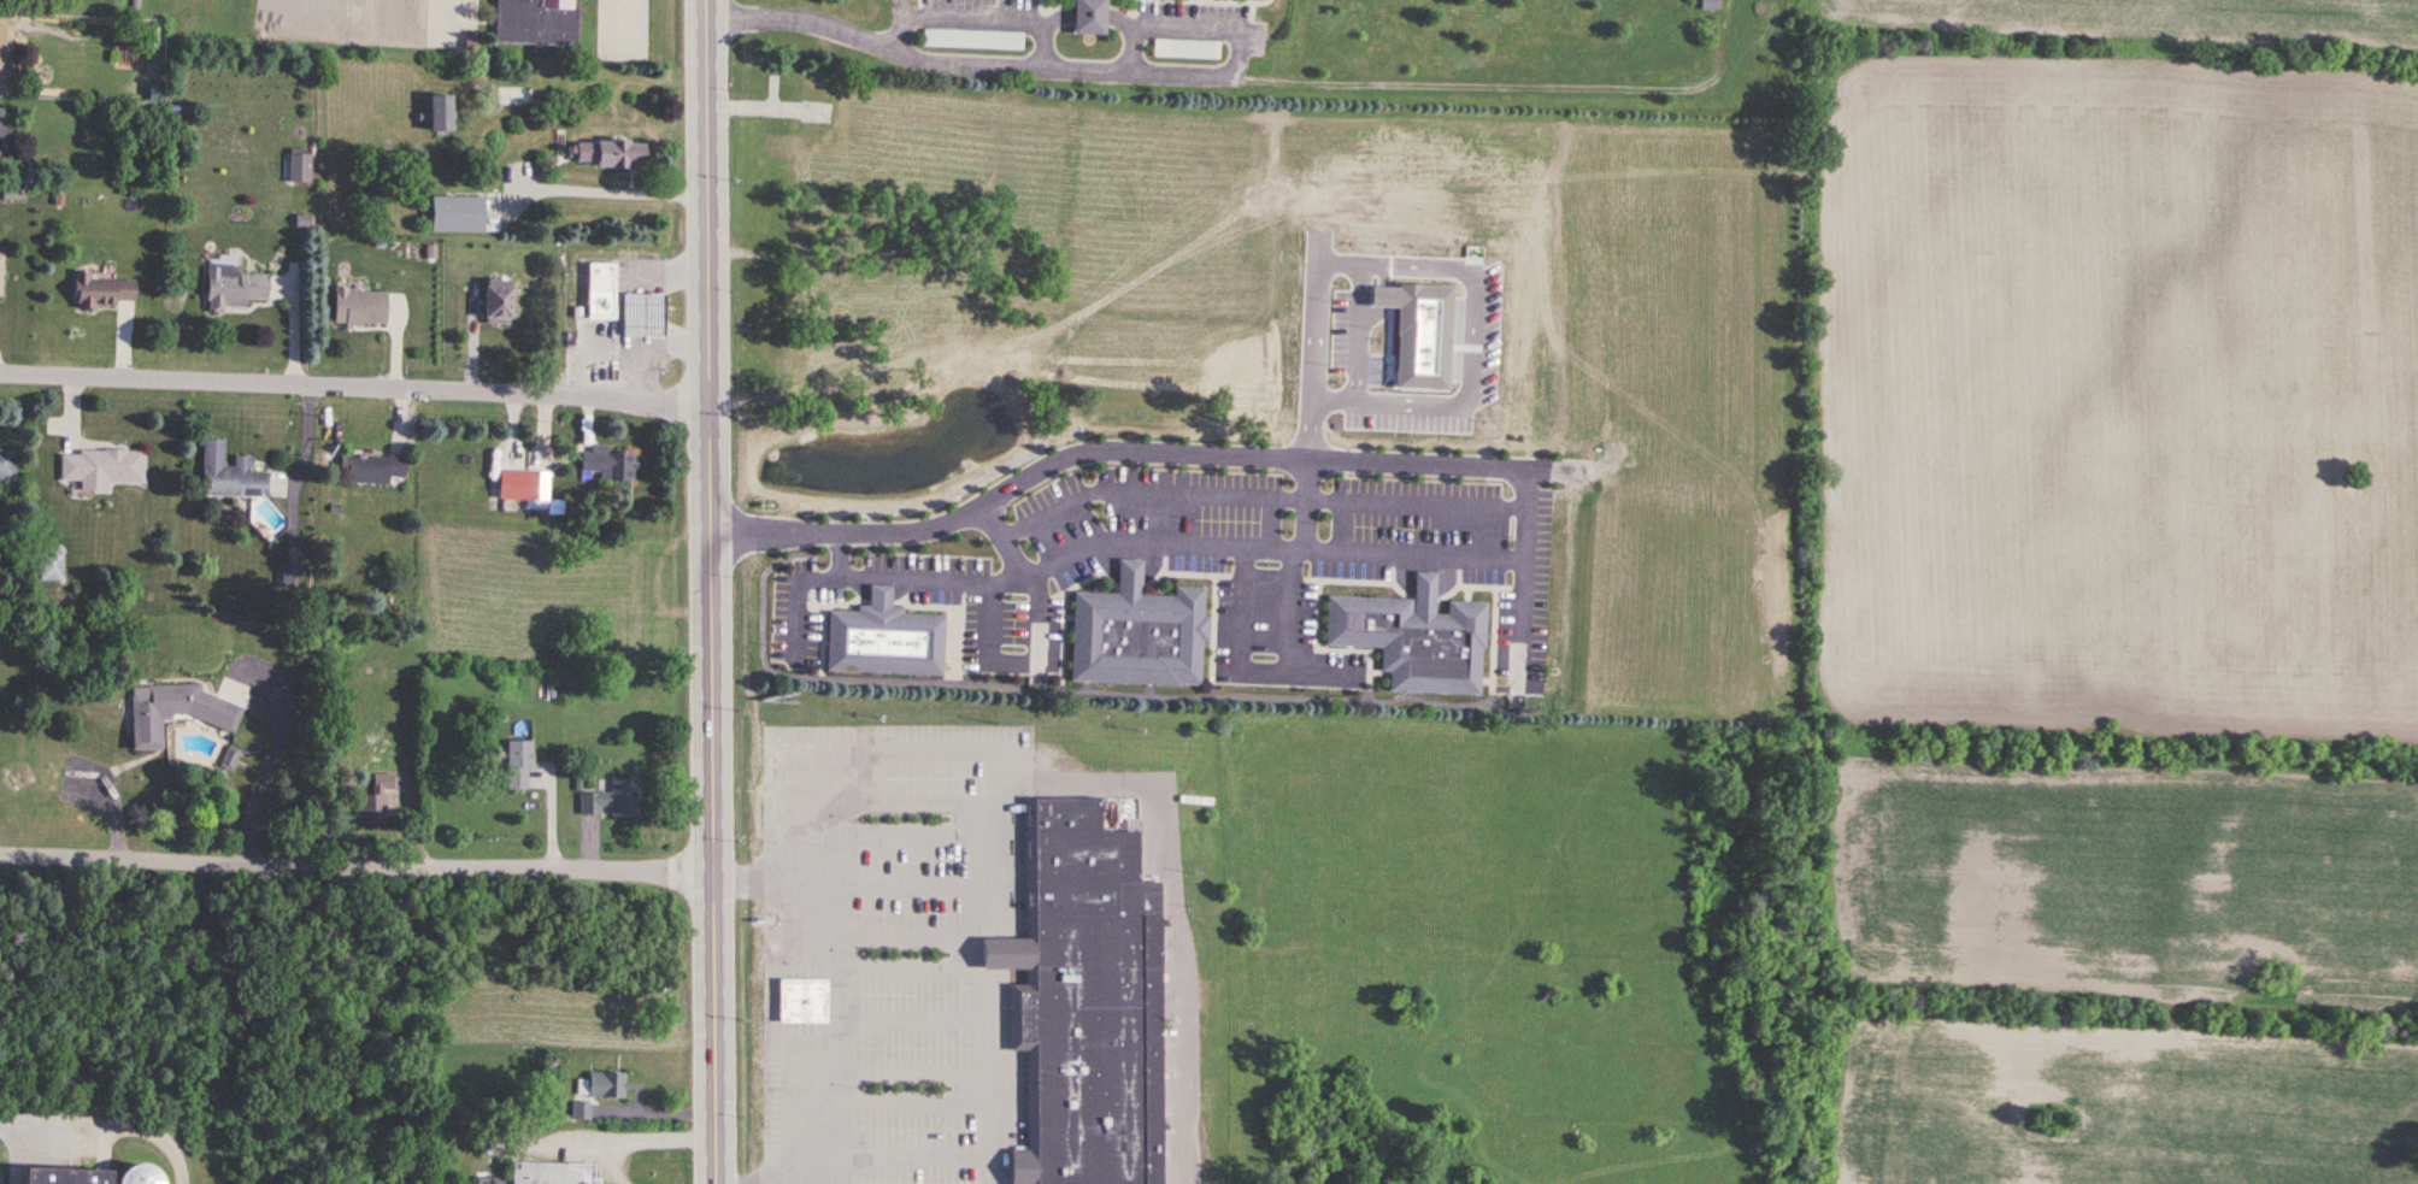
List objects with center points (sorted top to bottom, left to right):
building: (1710, 5)
road: (834, 10)
road: (449, 13)
building: (1088, 17)
road: (620, 19)
building: (537, 22)
road: (1019, 23)
road: (1111, 25)
building: (630, 30)
road: (945, 42)
building: (1187, 49)
road: (1200, 53)
building: (0, 58)
building: (513, 99)
building: (441, 114)
building: (0, 137)
building: (608, 155)
building: (300, 167)
road: (592, 170)
building: (458, 216)
building: (0, 272)
building: (234, 288)
building: (100, 290)
building: (601, 291)
building: (496, 300)
building: (359, 307)
building: (642, 314)
road: (357, 385)
road: (1145, 449)
building: (7, 464)
building: (608, 464)
building: (100, 466)
building: (371, 469)
building: (229, 473)
building: (523, 484)
road: (1259, 496)
road: (1120, 542)
road: (1293, 564)
road: (1524, 578)
road: (713, 591)
road: (1037, 634)
building: (1139, 635)
building: (1414, 638)
building: (883, 640)
road: (1242, 667)
building: (175, 712)
road: (270, 765)
building: (518, 765)
building: (612, 799)
building: (371, 808)
road: (358, 859)
road: (828, 994)
building: (802, 1002)
building: (1087, 1003)
road: (978, 1060)
building: (606, 1085)
building: (580, 1112)
building: (545, 1173)
building: (137, 1176)
building: (59, 1177)

